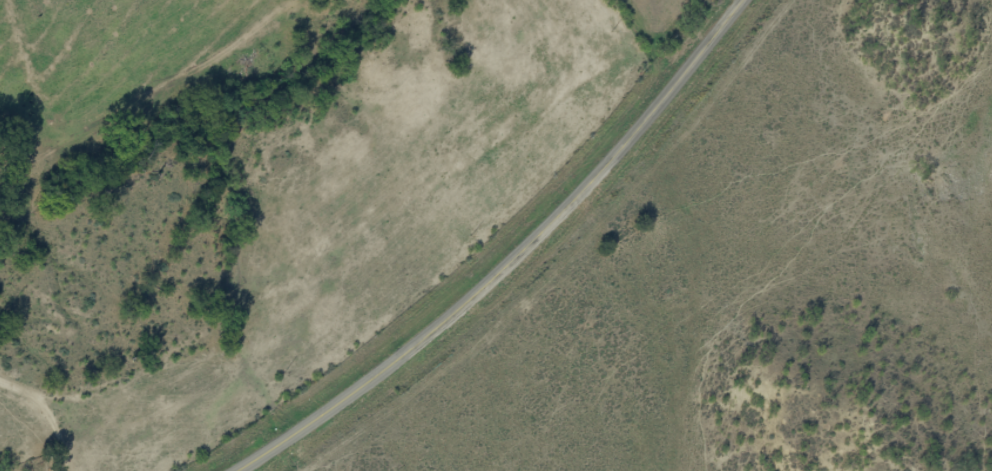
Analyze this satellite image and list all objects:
road: (510, 261)
road: (40, 434)

